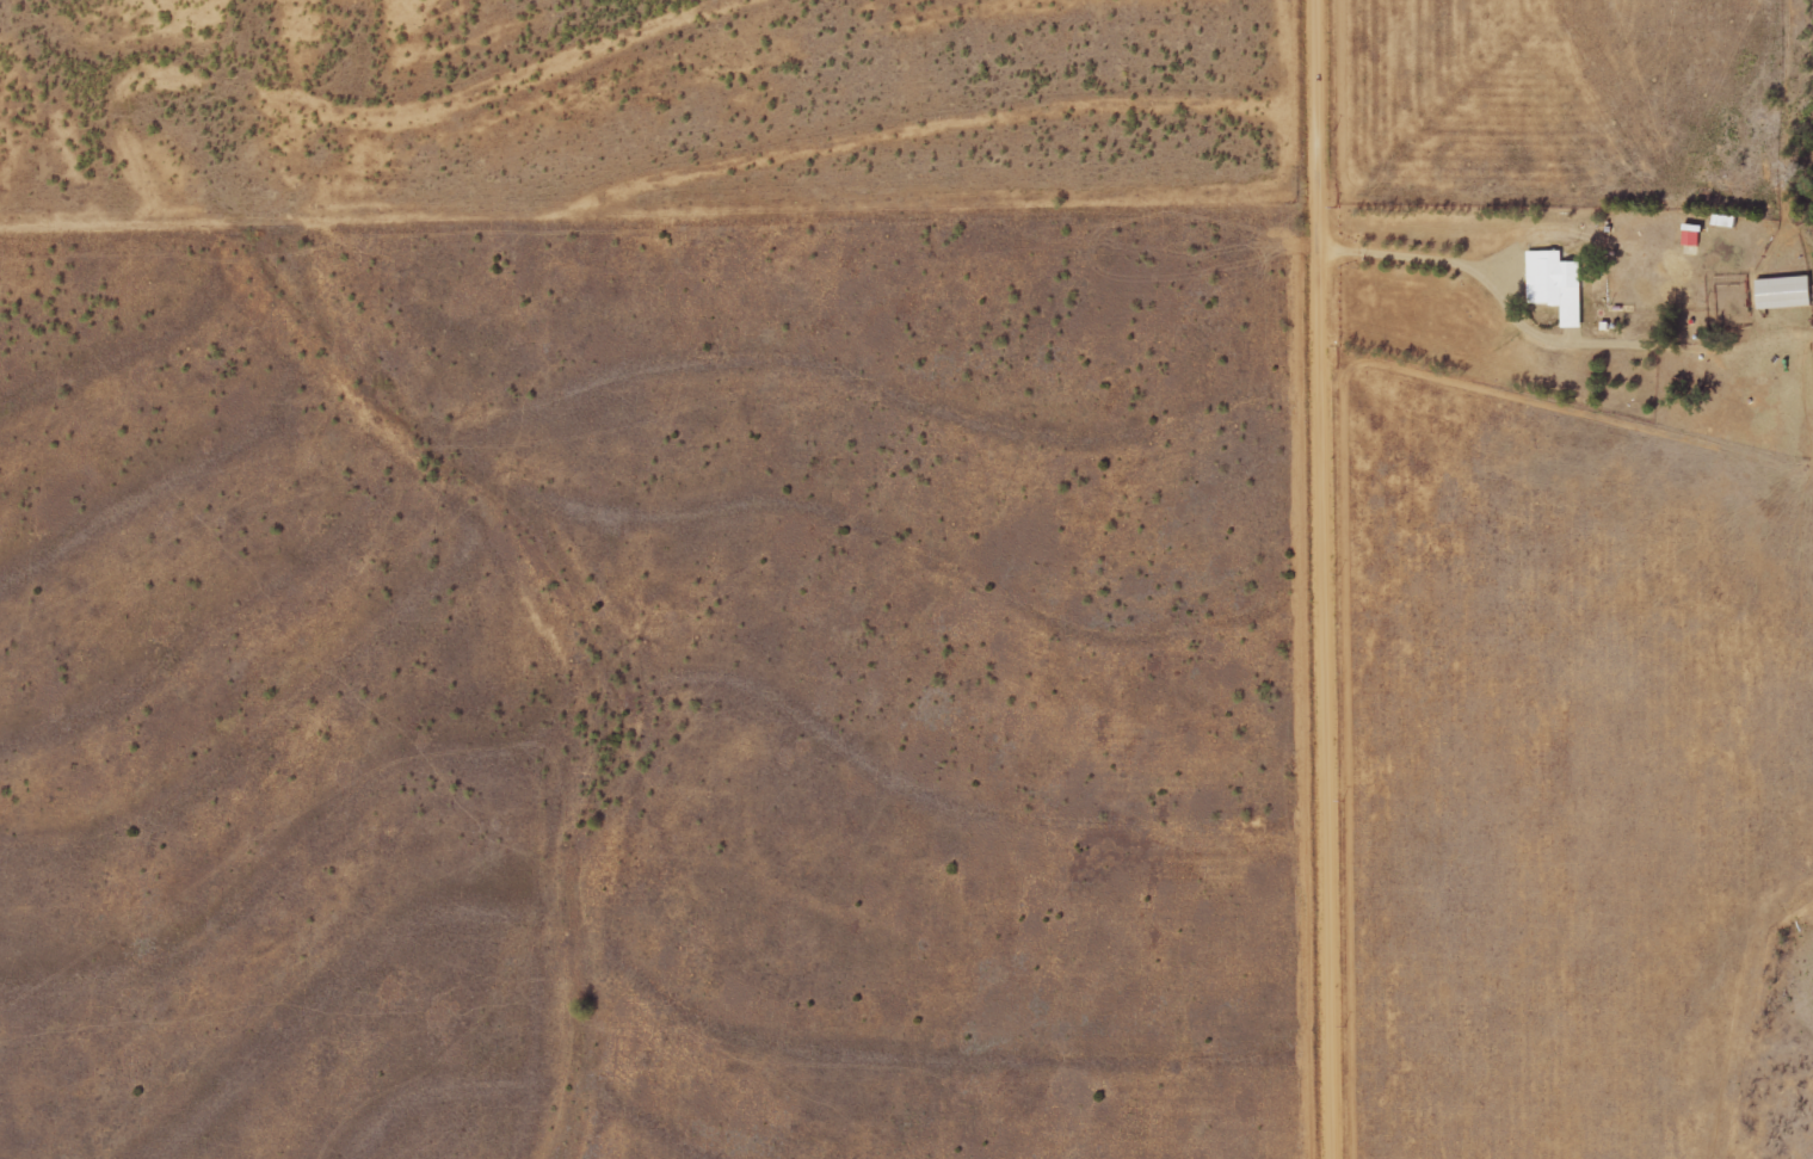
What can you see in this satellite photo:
building: (1689, 234)
building: (1554, 284)
building: (1780, 291)
road: (1324, 579)

